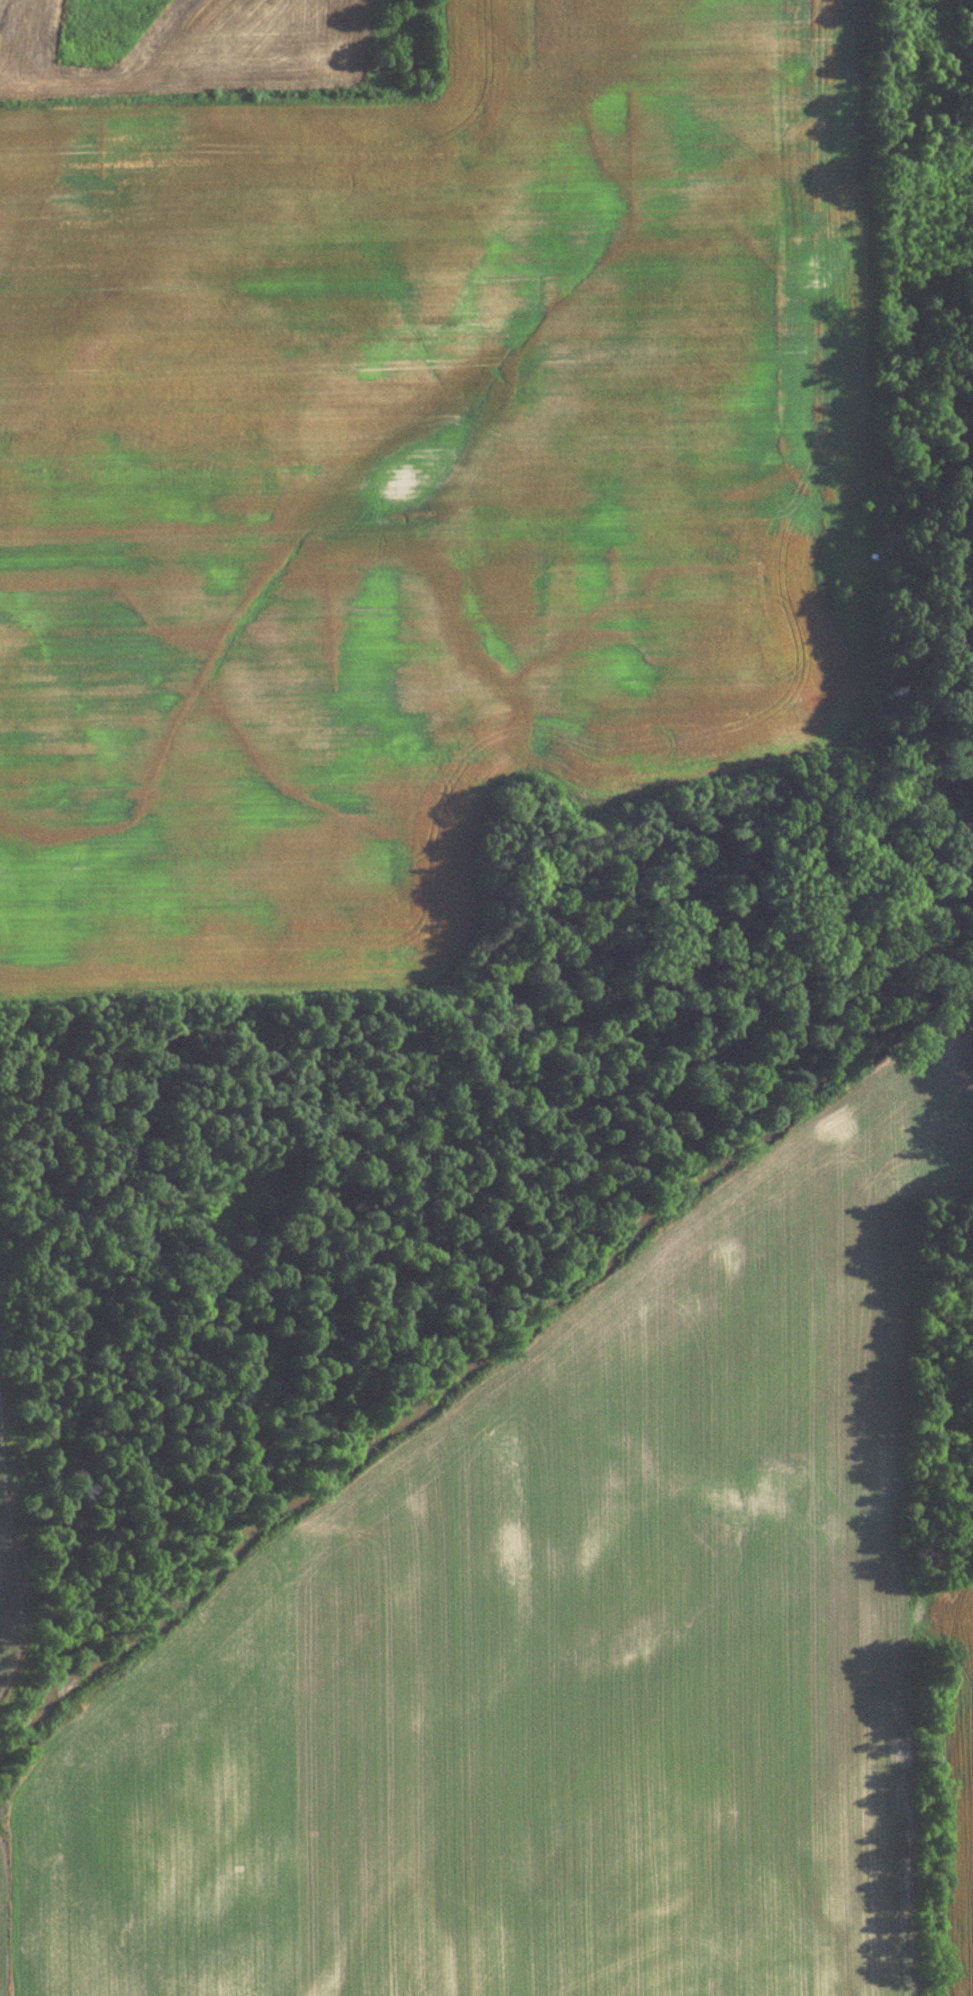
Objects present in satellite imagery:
river: (478, 1354)

